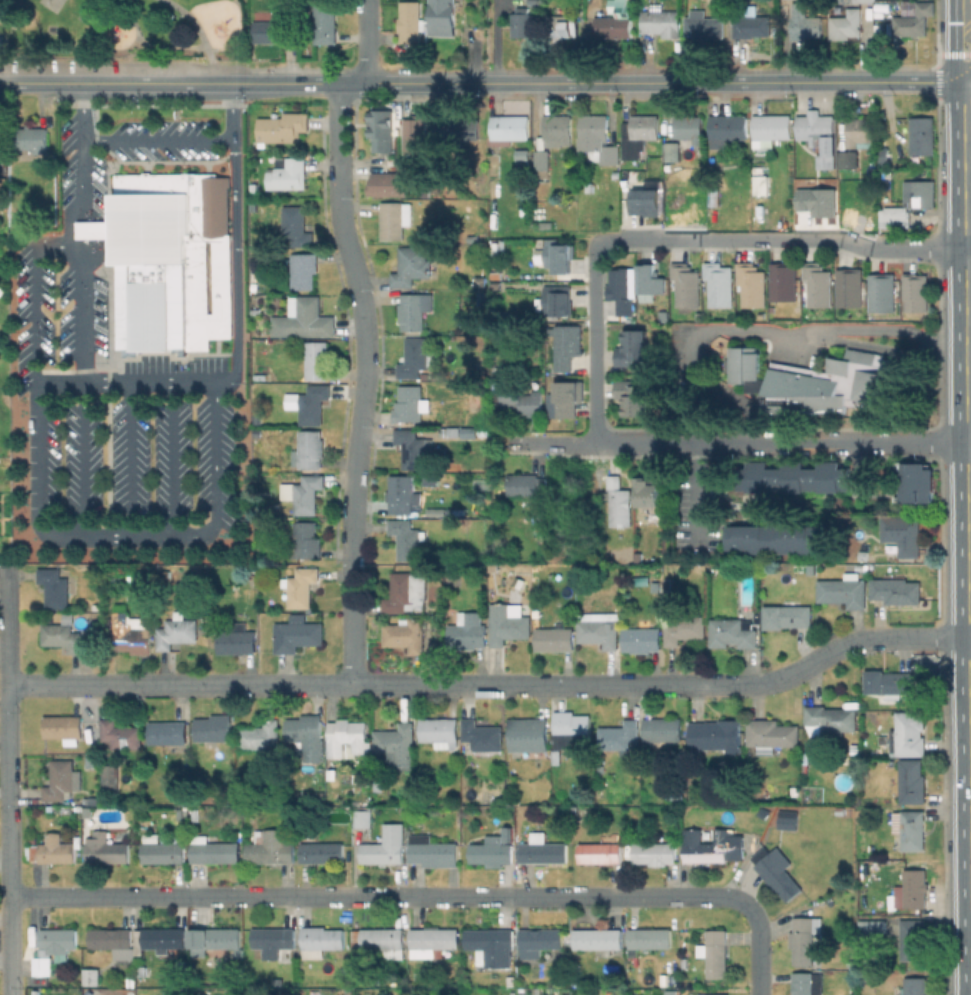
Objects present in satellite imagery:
building: (865, 0)
building: (536, 2)
road: (3, 5)
road: (967, 9)
building: (443, 17)
road: (969, 19)
building: (915, 20)
building: (411, 21)
building: (326, 22)
building: (522, 22)
building: (616, 22)
building: (662, 22)
building: (751, 22)
building: (804, 22)
building: (704, 24)
building: (846, 24)
building: (565, 26)
building: (278, 30)
park: (124, 31)
road: (201, 34)
building: (3, 41)
road: (366, 41)
road: (499, 41)
road: (150, 44)
road: (956, 48)
road: (963, 53)
road: (968, 77)
road: (27, 83)
road: (151, 83)
road: (294, 83)
road: (373, 83)
road: (686, 83)
road: (968, 89)
building: (511, 126)
building: (282, 127)
building: (559, 127)
building: (772, 127)
building: (728, 128)
building: (455, 131)
building: (382, 132)
building: (861, 132)
building: (639, 134)
building: (683, 134)
building: (923, 135)
building: (416, 137)
building: (821, 137)
building: (33, 138)
building: (597, 139)
road: (161, 141)
road: (85, 152)
building: (883, 154)
building: (850, 158)
building: (543, 159)
building: (730, 162)
building: (522, 165)
building: (287, 173)
building: (761, 183)
building: (389, 184)
building: (830, 185)
building: (4, 188)
building: (253, 188)
building: (922, 193)
building: (714, 196)
building: (645, 204)
building: (894, 217)
building: (393, 220)
building: (296, 226)
road: (86, 229)
building: (98, 229)
road: (640, 239)
road: (764, 239)
road: (238, 241)
road: (607, 242)
building: (200, 247)
road: (915, 249)
building: (558, 258)
building: (412, 266)
building: (303, 269)
building: (154, 272)
building: (498, 276)
building: (530, 276)
building: (211, 278)
building: (481, 281)
building: (652, 281)
building: (785, 284)
building: (687, 286)
building: (753, 286)
building: (720, 287)
building: (819, 287)
building: (851, 287)
road: (38, 292)
building: (623, 292)
building: (917, 293)
building: (884, 294)
building: (484, 298)
building: (559, 301)
building: (415, 310)
building: (255, 311)
road: (968, 311)
road: (86, 312)
parking lot: (57, 317)
building: (305, 320)
road: (363, 321)
road: (970, 321)
road: (760, 331)
road: (593, 343)
building: (634, 346)
building: (568, 347)
building: (415, 357)
building: (317, 359)
building: (746, 363)
road: (970, 377)
building: (842, 379)
building: (500, 382)
road: (128, 386)
building: (632, 397)
building: (567, 398)
building: (526, 400)
building: (311, 403)
building: (410, 403)
building: (453, 432)
road: (970, 442)
road: (543, 443)
road: (782, 443)
building: (309, 449)
building: (412, 449)
road: (176, 461)
road: (86, 462)
road: (134, 462)
road: (218, 465)
building: (792, 477)
road: (41, 480)
building: (916, 483)
building: (526, 484)
road: (696, 490)
building: (649, 492)
building: (306, 493)
building: (402, 494)
building: (620, 504)
building: (903, 533)
road: (144, 538)
building: (407, 539)
building: (304, 540)
building: (775, 541)
road: (2, 562)
building: (812, 568)
building: (301, 586)
building: (55, 587)
building: (898, 590)
building: (406, 591)
building: (842, 591)
building: (787, 616)
road: (350, 622)
building: (507, 624)
building: (684, 628)
building: (600, 630)
building: (176, 632)
building: (406, 633)
building: (731, 633)
building: (467, 634)
building: (132, 635)
building: (296, 635)
building: (62, 636)
building: (554, 639)
building: (641, 639)
building: (235, 642)
building: (890, 682)
road: (492, 683)
building: (829, 719)
building: (63, 726)
building: (213, 729)
building: (661, 729)
building: (438, 731)
building: (571, 732)
building: (907, 733)
building: (168, 734)
building: (259, 734)
building: (481, 734)
building: (618, 734)
building: (715, 734)
building: (771, 734)
building: (119, 735)
building: (305, 735)
building: (346, 736)
building: (530, 736)
building: (395, 742)
building: (855, 748)
building: (557, 758)
building: (60, 779)
road: (5, 780)
building: (911, 781)
building: (110, 782)
building: (378, 784)
building: (230, 792)
building: (675, 794)
building: (321, 795)
building: (562, 809)
building: (775, 810)
building: (763, 812)
building: (864, 812)
building: (197, 815)
building: (361, 817)
building: (787, 819)
building: (910, 828)
building: (384, 845)
building: (269, 847)
building: (713, 847)
building: (106, 848)
building: (492, 849)
building: (51, 850)
building: (212, 850)
building: (599, 850)
building: (654, 850)
building: (163, 851)
building: (321, 851)
building: (432, 851)
building: (542, 851)
building: (775, 871)
building: (910, 890)
road: (355, 894)
road: (758, 926)
building: (870, 927)
building: (164, 937)
building: (59, 938)
building: (648, 938)
building: (804, 938)
building: (912, 938)
building: (214, 939)
building: (598, 939)
building: (272, 940)
building: (380, 940)
building: (539, 940)
building: (113, 941)
building: (322, 941)
building: (432, 941)
building: (490, 945)
building: (716, 953)
building: (684, 962)
building: (44, 964)
building: (141, 971)
building: (91, 975)
building: (425, 978)
building: (806, 983)
building: (914, 986)
building: (89, 992)
building: (712, 994)

